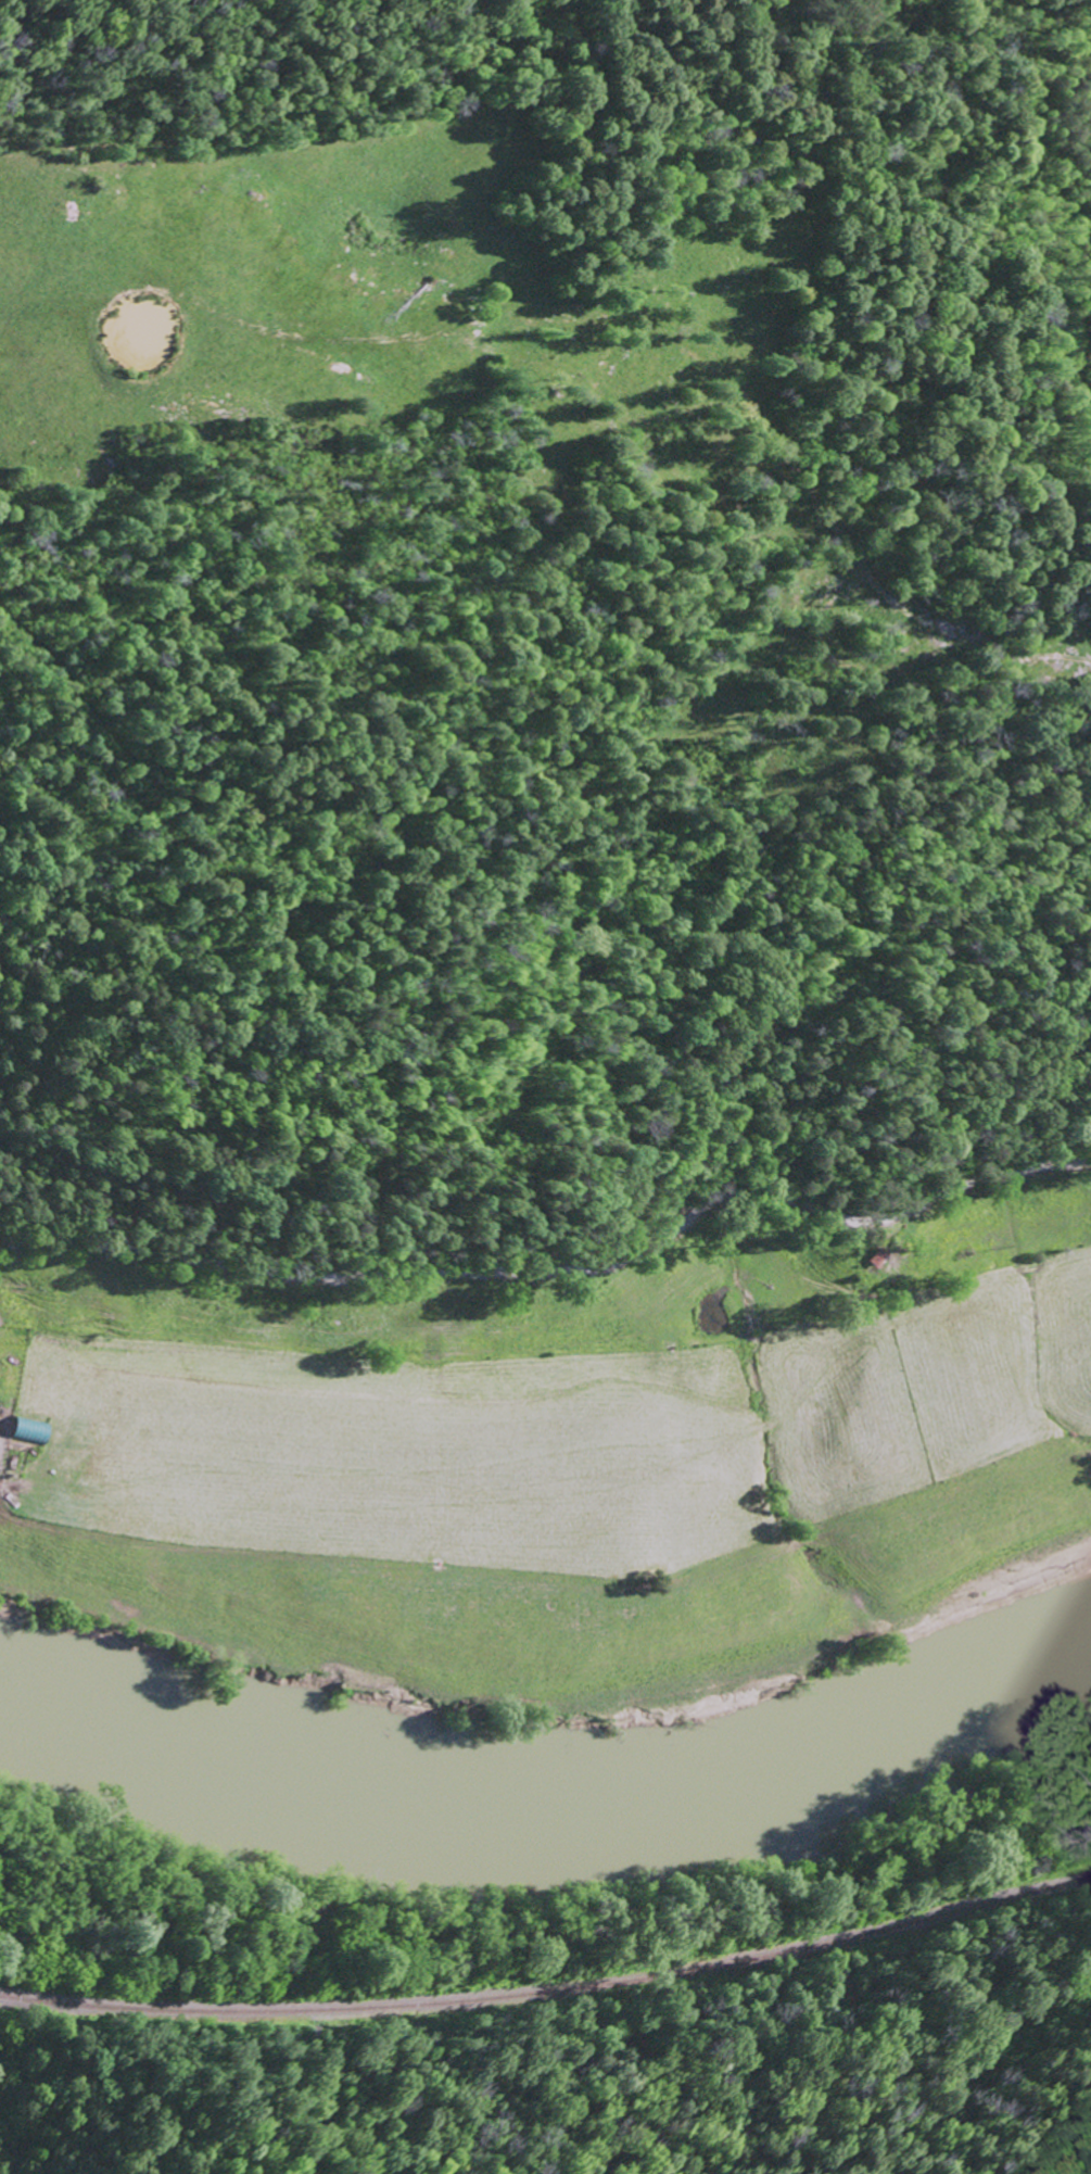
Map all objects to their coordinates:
road: (564, 1267)
building: (28, 1430)
river: (547, 1800)
railway: (549, 1988)

